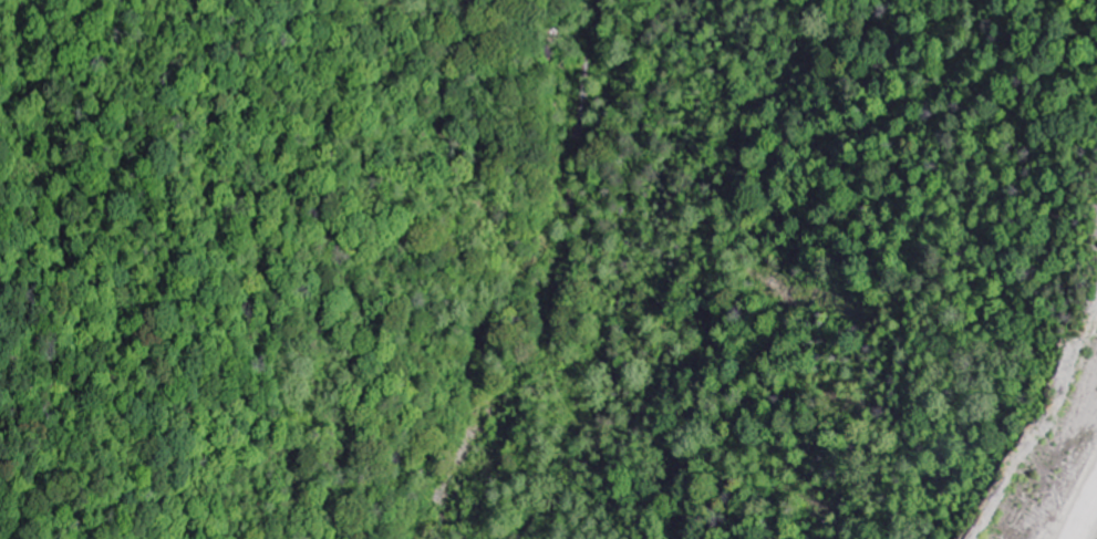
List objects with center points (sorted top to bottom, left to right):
road: (1082, 514)

